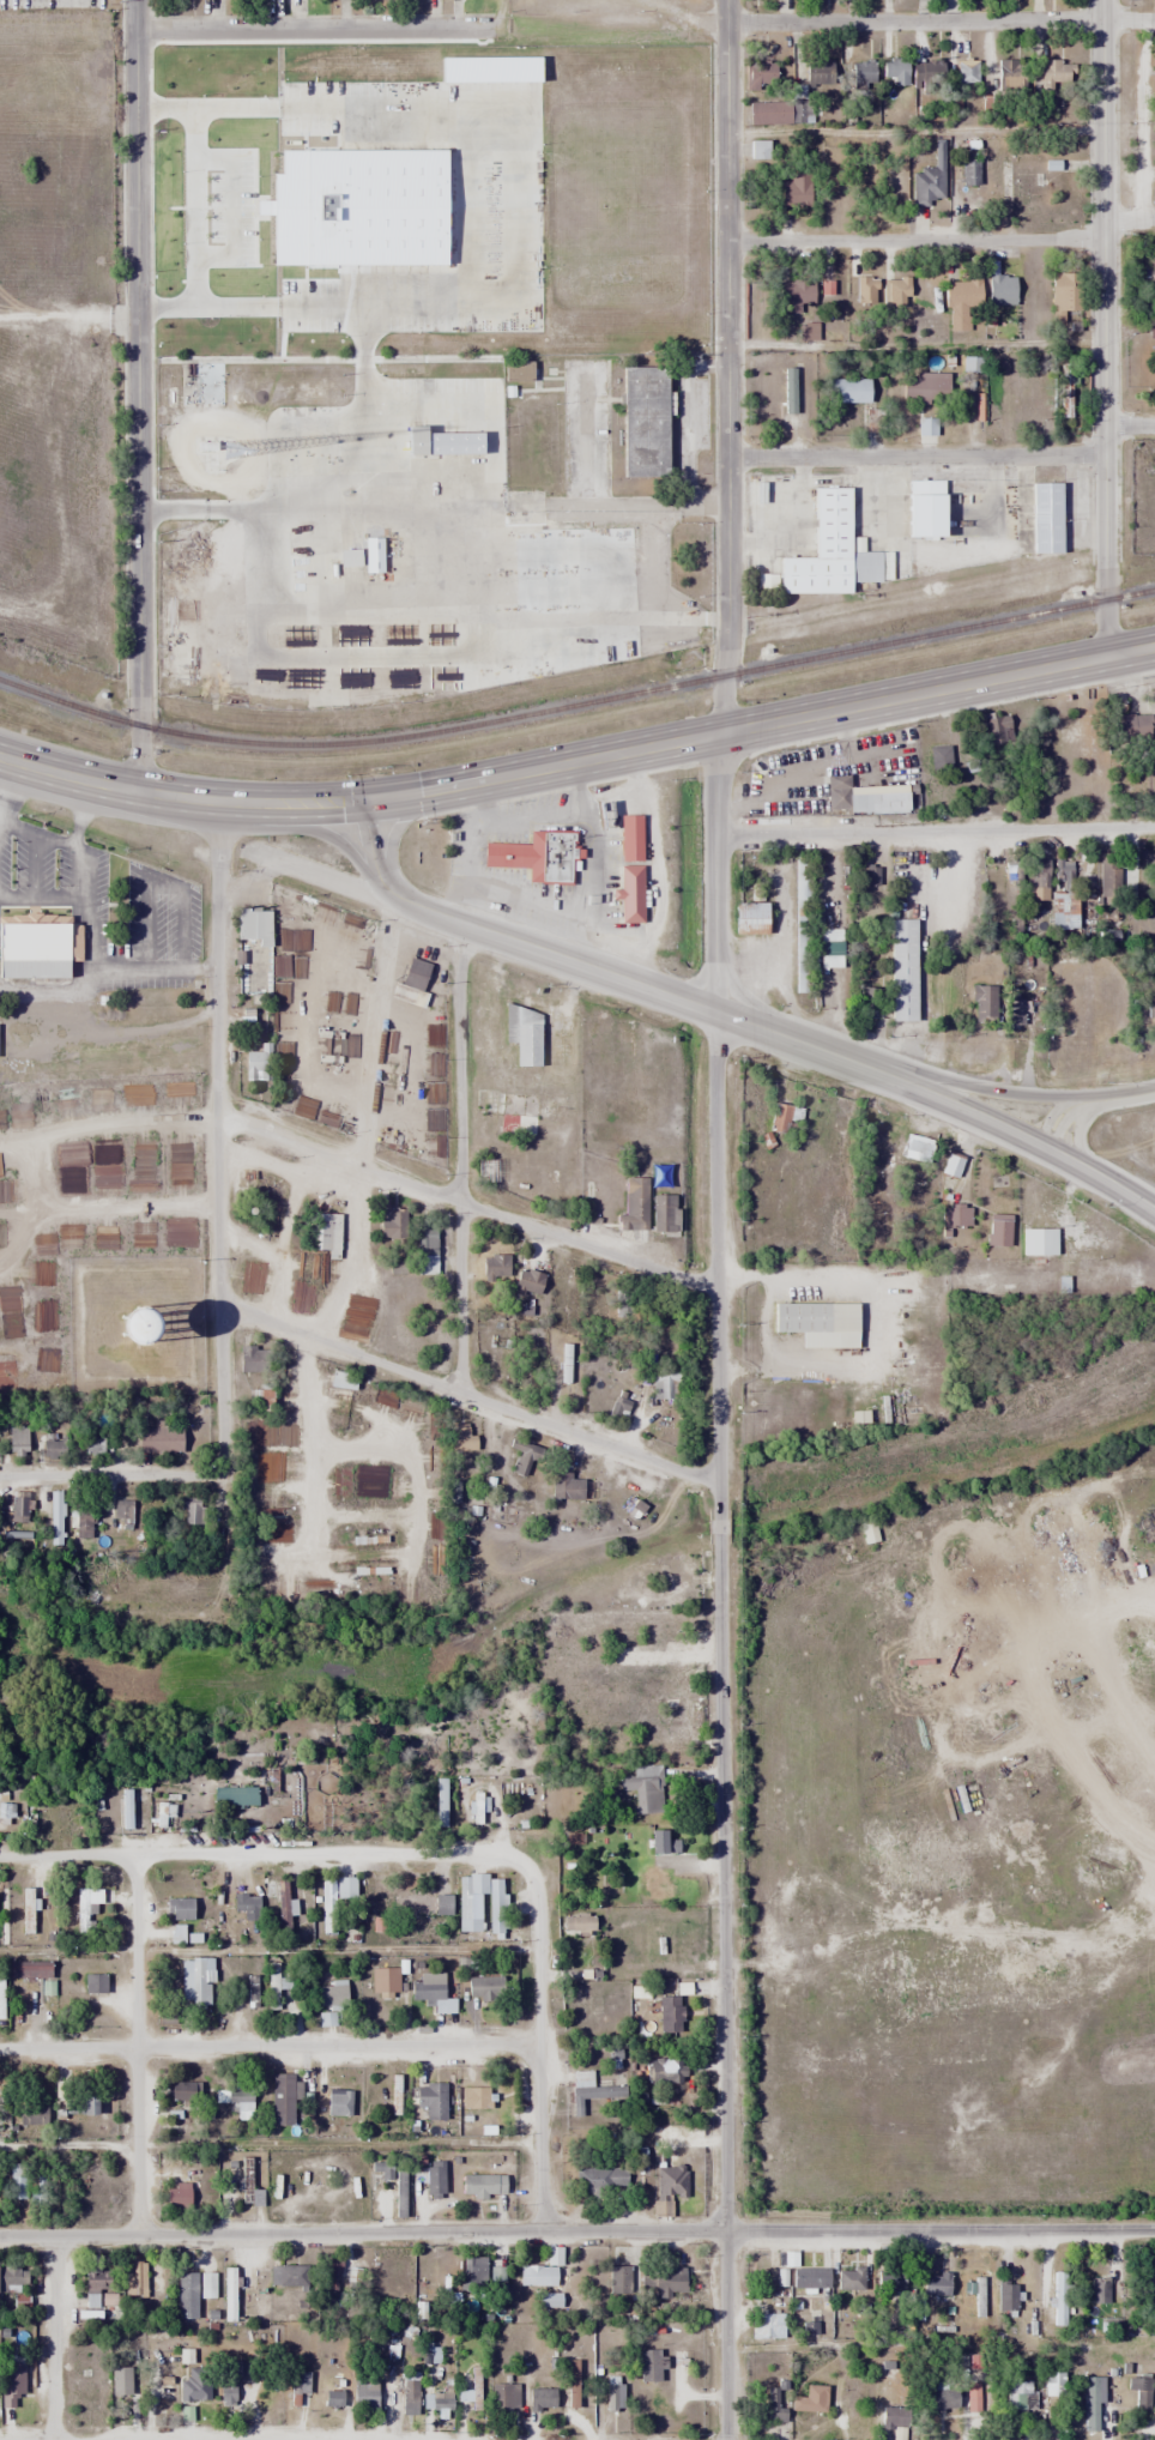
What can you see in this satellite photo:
road: (496, 18)
road: (942, 20)
road: (308, 26)
building: (894, 71)
building: (967, 71)
building: (818, 72)
building: (926, 73)
building: (1052, 73)
building: (861, 74)
building: (758, 76)
building: (1010, 77)
building: (768, 111)
road: (915, 131)
building: (758, 150)
building: (970, 169)
building: (1020, 183)
building: (926, 186)
building: (791, 193)
road: (1129, 221)
road: (915, 240)
building: (826, 286)
building: (1000, 288)
building: (865, 289)
building: (897, 291)
building: (1063, 294)
building: (793, 296)
building: (961, 303)
road: (1103, 327)
road: (915, 344)
road: (728, 367)
building: (546, 376)
building: (925, 387)
building: (788, 391)
building: (848, 391)
road: (139, 395)
building: (1065, 399)
building: (642, 422)
road: (1129, 424)
building: (439, 442)
road: (915, 457)
building: (923, 509)
building: (1045, 517)
building: (827, 551)
building: (562, 561)
railway: (576, 703)
road: (761, 725)
building: (1130, 726)
building: (997, 730)
building: (939, 757)
road: (71, 775)
building: (837, 793)
traffic signals: (365, 797)
building: (887, 801)
road: (254, 802)
road: (2, 816)
road: (46, 828)
road: (937, 828)
road: (334, 833)
road: (394, 834)
building: (534, 856)
road: (38, 858)
road: (87, 865)
building: (871, 874)
building: (802, 883)
road: (44, 892)
building: (628, 892)
building: (1063, 894)
building: (748, 917)
building: (250, 922)
building: (41, 938)
building: (832, 947)
road: (573, 956)
building: (800, 965)
road: (157, 966)
building: (902, 970)
road: (86, 979)
building: (984, 1003)
building: (1016, 1010)
building: (526, 1038)
road: (975, 1079)
road: (1131, 1088)
road: (1066, 1103)
building: (526, 1111)
building: (784, 1118)
road: (1003, 1121)
road: (1078, 1123)
road: (222, 1130)
building: (913, 1144)
road: (462, 1155)
building: (951, 1165)
building: (484, 1170)
road: (356, 1198)
road: (468, 1201)
building: (635, 1207)
building: (664, 1212)
building: (955, 1215)
building: (326, 1233)
building: (425, 1242)
building: (1038, 1242)
building: (527, 1281)
building: (113, 1321)
building: (816, 1322)
water tower: (141, 1327)
road: (470, 1395)
building: (461, 1438)
building: (158, 1439)
building: (17, 1441)
building: (92, 1442)
building: (52, 1444)
road: (113, 1474)
building: (563, 1485)
building: (192, 1509)
building: (19, 1510)
building: (122, 1510)
building: (55, 1517)
building: (83, 1522)
building: (869, 1532)
road: (719, 1587)
building: (232, 1795)
building: (661, 1842)
road: (265, 1852)
building: (654, 1883)
building: (344, 1888)
building: (476, 1902)
building: (419, 1904)
building: (247, 1906)
building: (179, 1908)
building: (280, 1909)
building: (26, 1910)
building: (86, 1910)
building: (175, 1933)
building: (579, 1944)
building: (29, 1969)
building: (193, 1980)
building: (277, 1982)
building: (386, 1982)
building: (93, 1983)
building: (425, 1988)
building: (483, 1988)
building: (331, 1994)
building: (595, 1995)
building: (670, 2016)
building: (327, 2019)
road: (135, 2045)
road: (270, 2047)
road: (542, 2047)
building: (664, 2071)
building: (594, 2088)
building: (180, 2092)
building: (473, 2097)
building: (282, 2098)
building: (431, 2100)
building: (80, 2101)
building: (237, 2101)
building: (328, 2102)
building: (31, 2114)
building: (380, 2168)
building: (427, 2179)
building: (600, 2179)
building: (18, 2181)
building: (670, 2182)
building: (249, 2185)
building: (482, 2185)
building: (176, 2197)
road: (577, 2233)
building: (474, 2269)
building: (536, 2275)
building: (288, 2276)
building: (329, 2276)
building: (10, 2277)
building: (766, 2277)
building: (809, 2278)
building: (96, 2279)
building: (134, 2279)
building: (667, 2279)
building: (849, 2279)
building: (618, 2281)
building: (891, 2281)
building: (935, 2283)
building: (498, 2284)
building: (1100, 2290)
building: (229, 2294)
building: (186, 2295)
building: (1006, 2295)
building: (1060, 2297)
building: (766, 2325)
road: (55, 2338)
building: (649, 2364)
building: (120, 2380)
building: (230, 2380)
building: (300, 2384)
building: (1053, 2384)
building: (194, 2388)
building: (1136, 2393)
building: (363, 2394)
building: (409, 2394)
building: (12, 2396)
building: (470, 2397)
building: (504, 2397)
building: (615, 2397)
building: (852, 2397)
building: (973, 2397)
building: (1018, 2398)
building: (332, 2399)
building: (542, 2399)
building: (943, 2400)
building: (437, 2402)
building: (1091, 2404)
building: (773, 2408)
building: (895, 2417)

